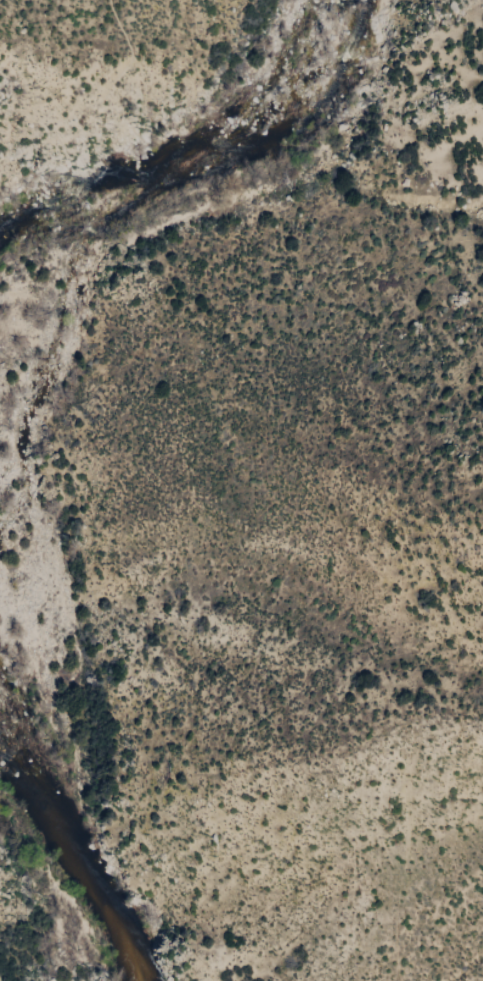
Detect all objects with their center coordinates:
road: (98, 94)

